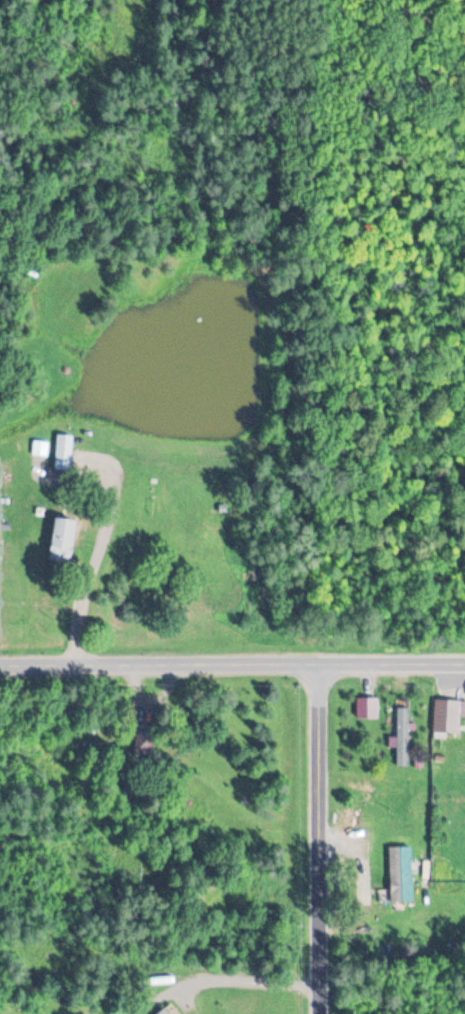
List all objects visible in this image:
building: (63, 452)
building: (63, 538)
road: (93, 558)
road: (232, 663)
building: (367, 707)
building: (448, 715)
road: (133, 722)
building: (146, 727)
building: (402, 737)
road: (320, 838)
building: (401, 874)
road: (393, 1000)
building: (168, 1011)

